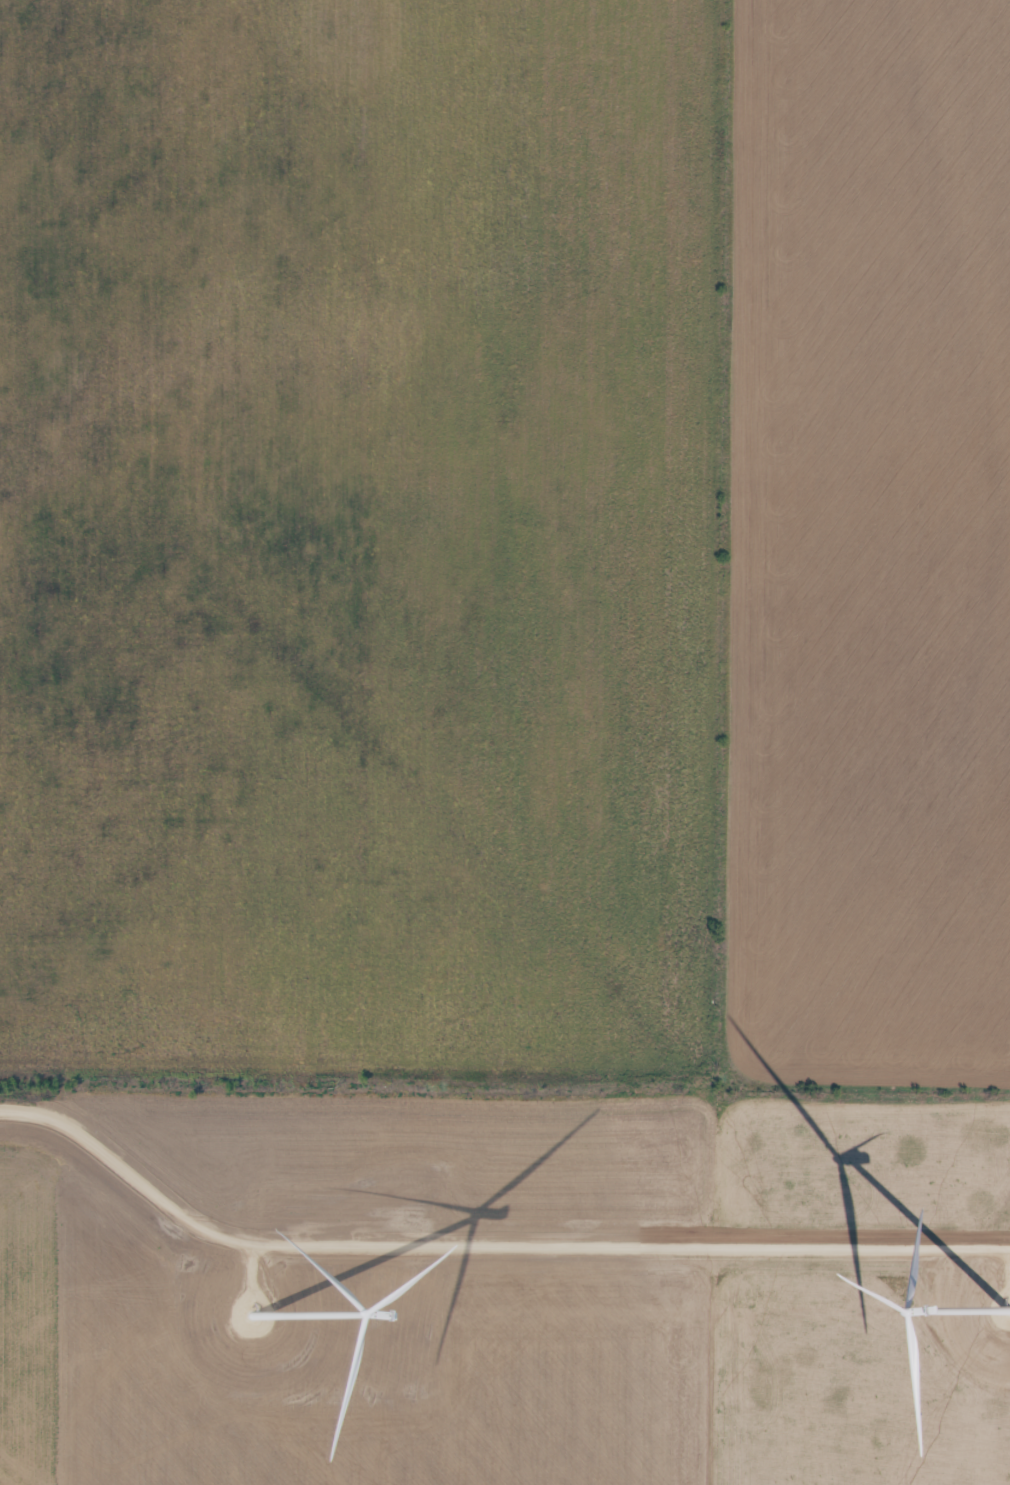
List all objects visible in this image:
wind turbine: (1002, 1312)
wind turbine: (247, 1316)

